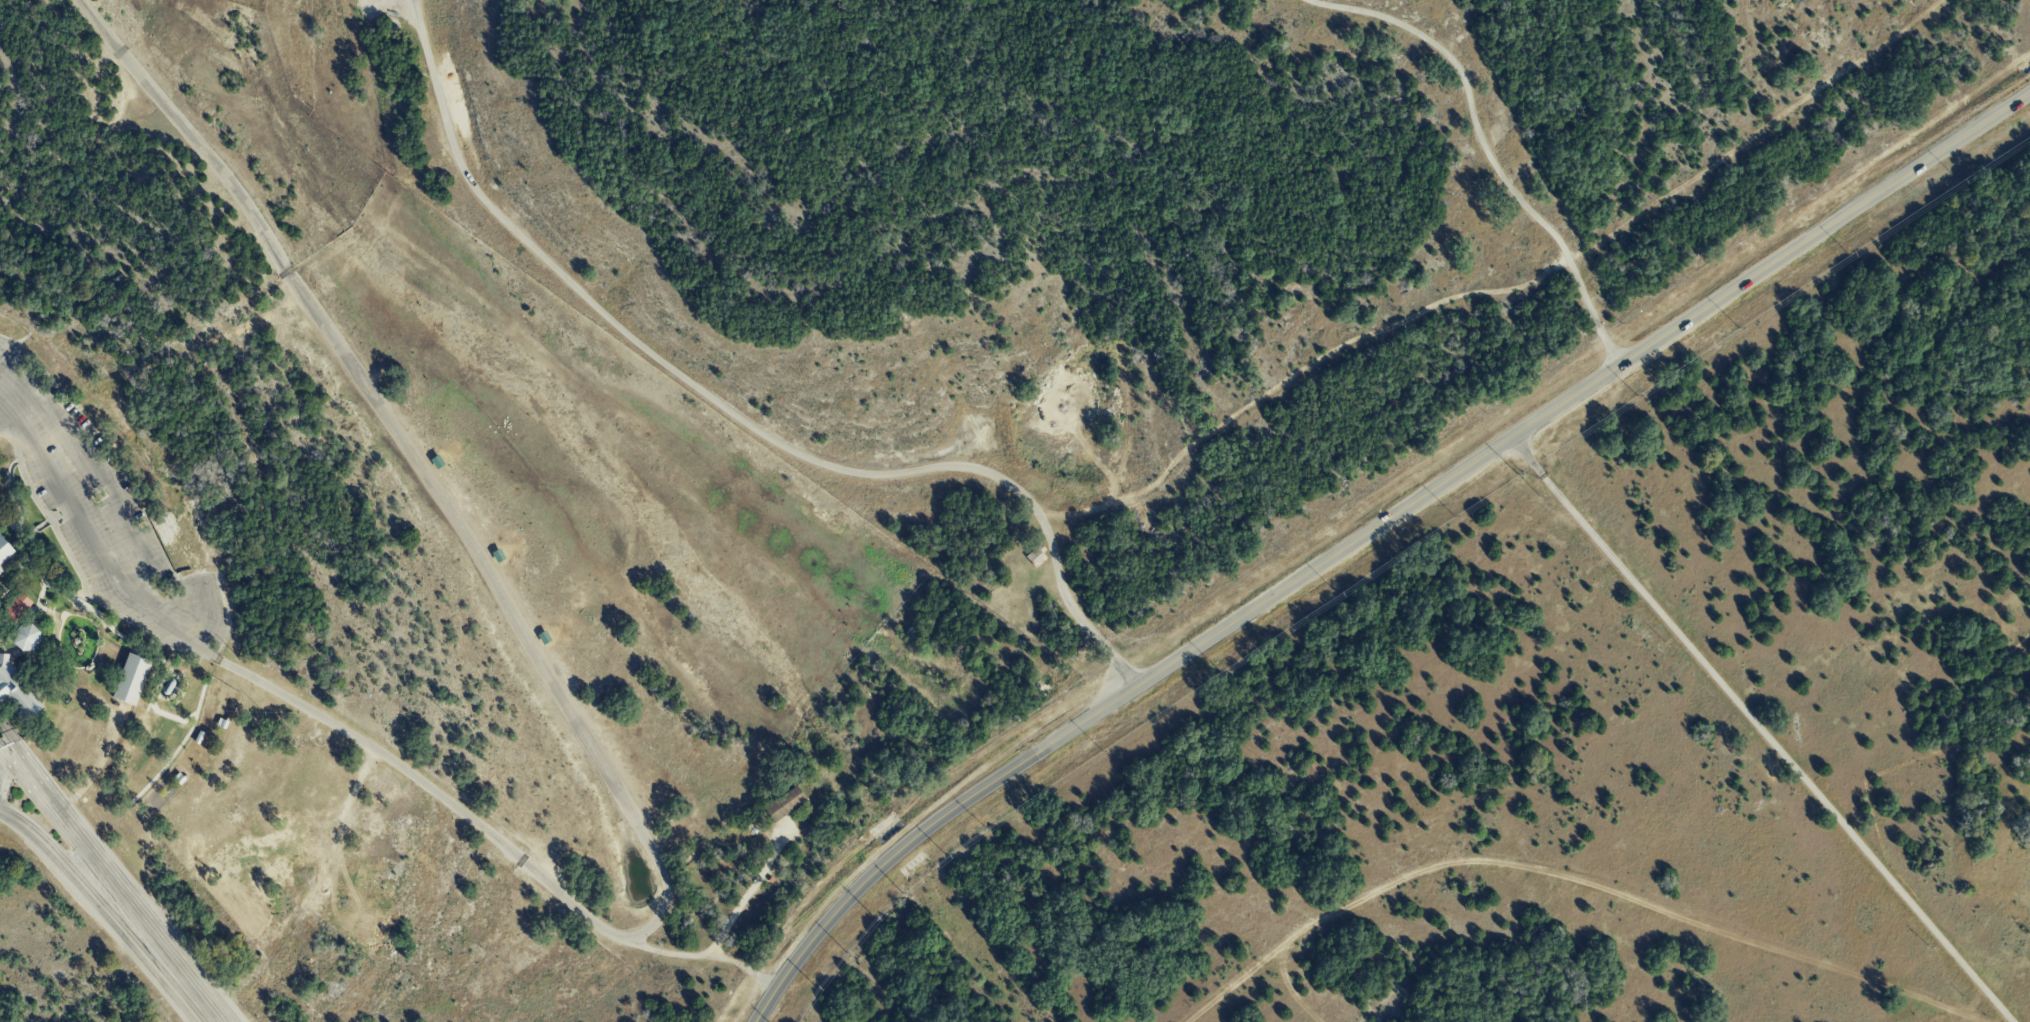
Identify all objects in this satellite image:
road: (1490, 155)
road: (1503, 289)
road: (9, 394)
road: (731, 415)
road: (101, 474)
parking lot: (99, 510)
road: (1370, 532)
building: (9, 549)
building: (14, 608)
road: (208, 618)
building: (26, 636)
building: (129, 679)
building: (17, 694)
road: (1759, 730)
road: (8, 759)
road: (49, 795)
building: (788, 801)
road: (627, 812)
road: (747, 891)
road: (105, 903)
road: (699, 956)

